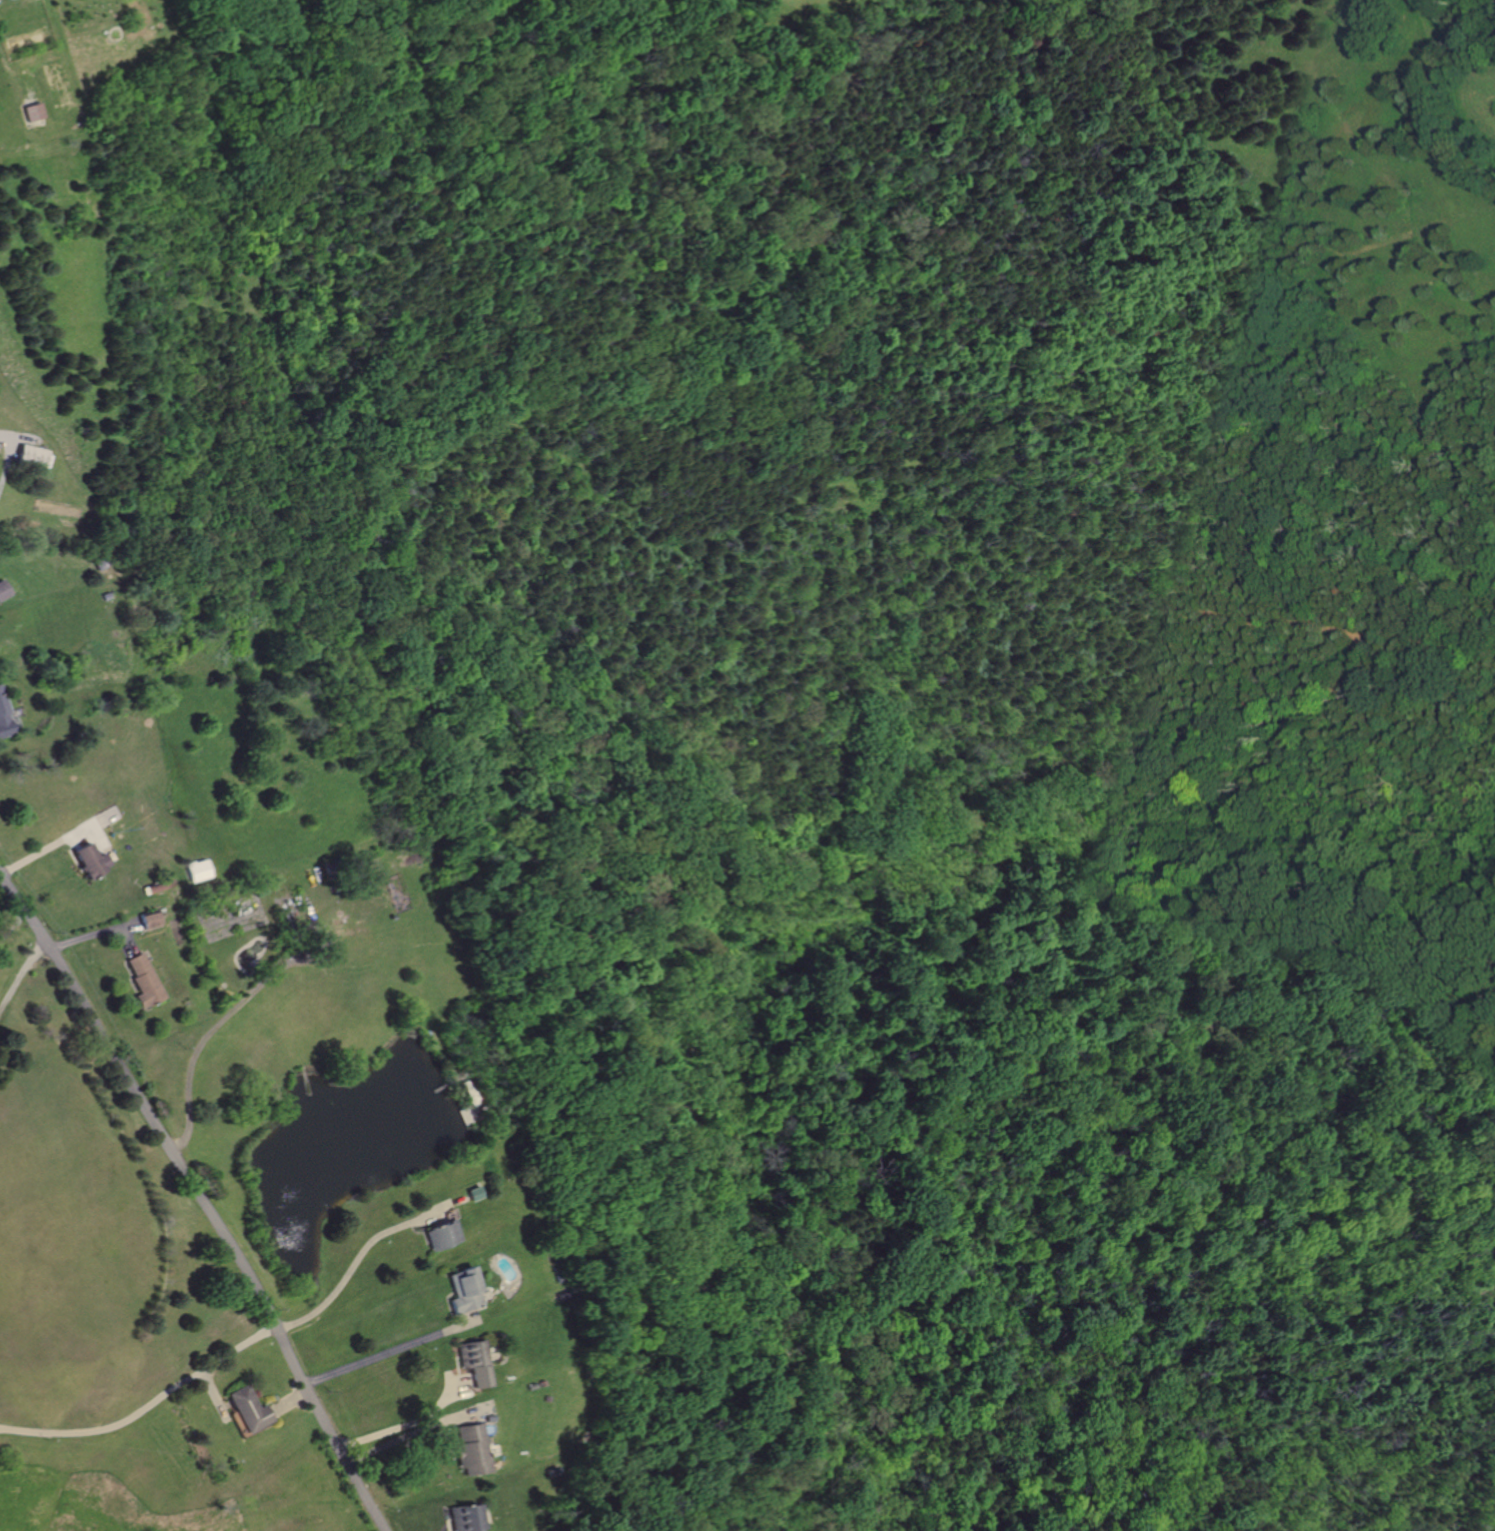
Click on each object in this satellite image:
building: (29, 112)
road: (9, 456)
building: (31, 456)
building: (2, 590)
building: (3, 725)
road: (92, 824)
road: (52, 843)
building: (86, 861)
building: (197, 870)
building: (157, 885)
building: (146, 920)
road: (14, 924)
road: (92, 934)
road: (123, 942)
road: (20, 974)
building: (141, 981)
road: (239, 1002)
road: (199, 1200)
building: (436, 1235)
road: (350, 1259)
building: (459, 1291)
road: (389, 1349)
building: (472, 1362)
road: (213, 1392)
road: (288, 1401)
road: (144, 1407)
road: (447, 1409)
building: (249, 1410)
road: (411, 1422)
road: (414, 1432)
building: (470, 1451)
building: (462, 1518)

